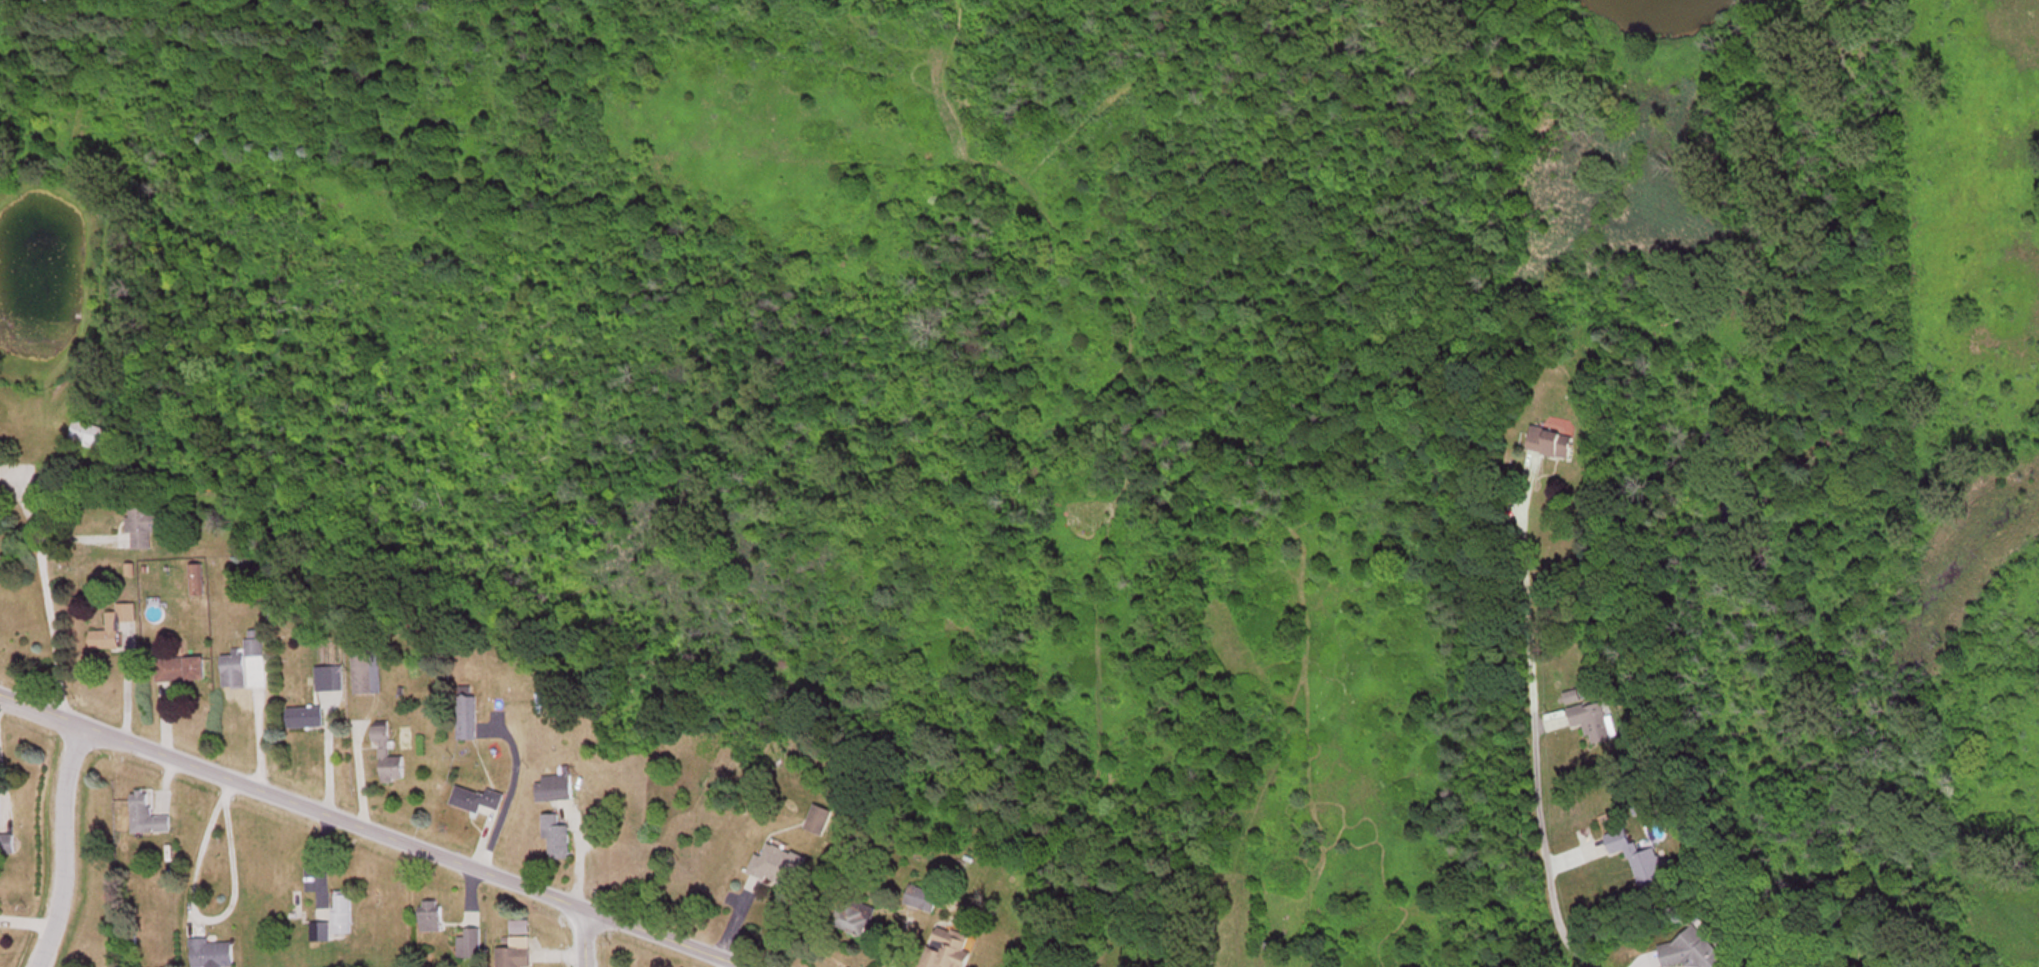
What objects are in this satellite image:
building: (90, 437)
building: (1554, 447)
building: (1, 478)
road: (979, 483)
building: (145, 527)
building: (265, 572)
building: (198, 584)
road: (27, 607)
building: (115, 630)
building: (181, 672)
building: (235, 674)
building: (368, 676)
building: (330, 681)
building: (306, 720)
building: (469, 721)
building: (1596, 721)
building: (389, 761)
building: (556, 789)
building: (479, 803)
building: (148, 816)
building: (820, 821)
road: (368, 831)
building: (558, 840)
road: (57, 845)
building: (7, 847)
building: (1642, 860)
building: (781, 868)
building: (922, 900)
building: (343, 917)
building: (432, 918)
road: (217, 920)
building: (856, 920)
road: (580, 938)
building: (470, 944)
building: (949, 950)
building: (1701, 950)
building: (517, 954)
building: (213, 955)

